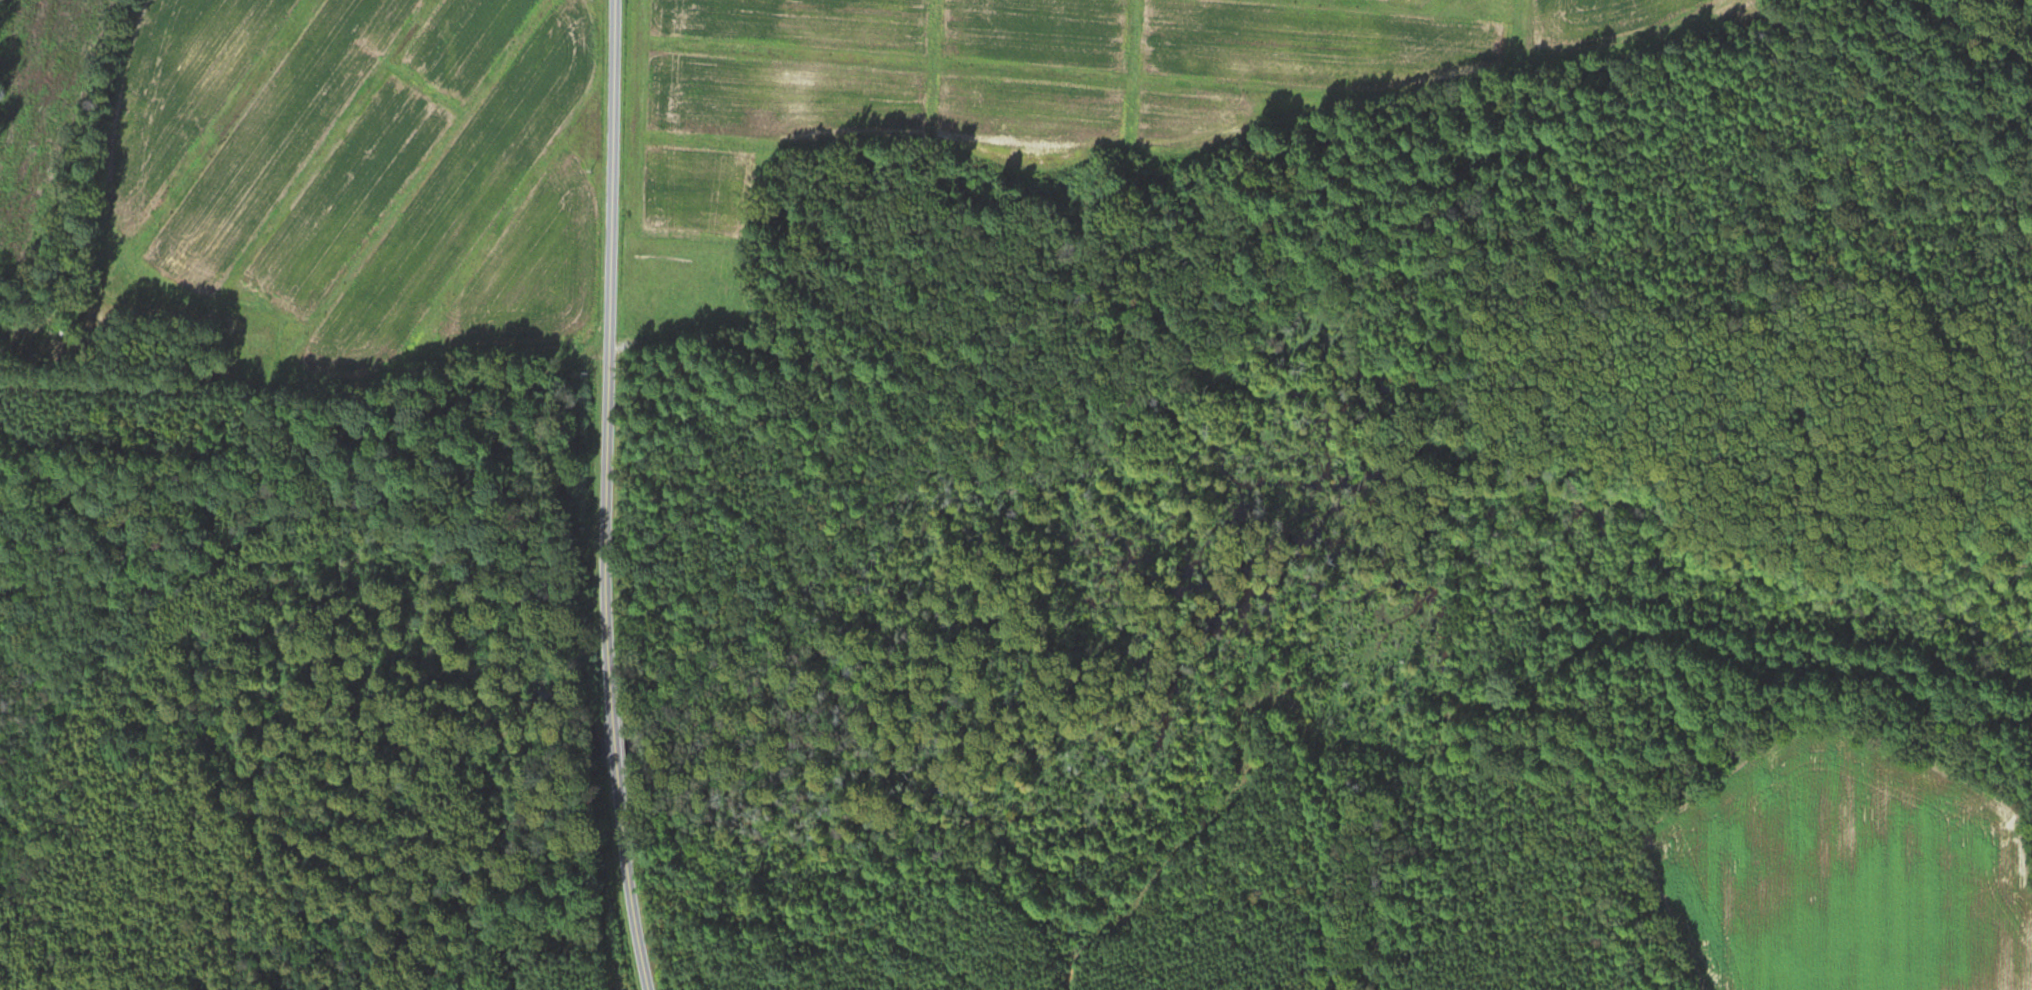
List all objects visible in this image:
road: (609, 356)
road: (616, 745)
road: (629, 884)

